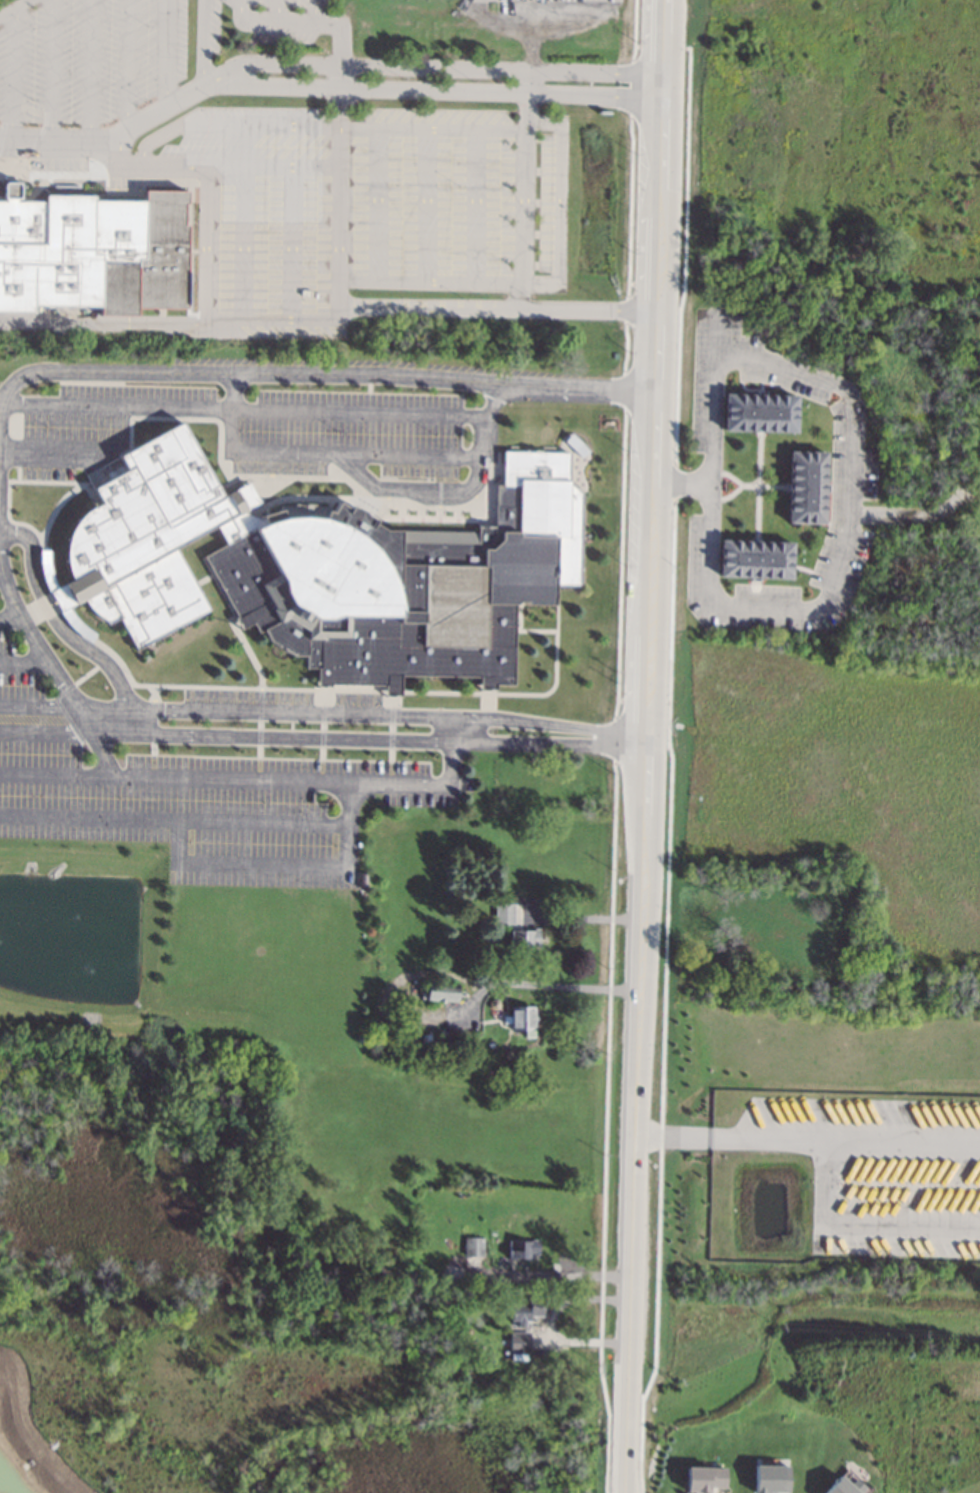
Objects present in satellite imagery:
road: (16, 10)
road: (241, 10)
road: (279, 10)
road: (316, 11)
road: (512, 29)
road: (634, 29)
parking lot: (213, 30)
road: (206, 42)
road: (636, 46)
road: (661, 46)
road: (163, 54)
parking lot: (88, 60)
road: (127, 66)
road: (436, 67)
road: (52, 70)
road: (91, 70)
road: (12, 76)
road: (437, 86)
road: (631, 87)
road: (324, 131)
road: (114, 140)
road: (367, 169)
road: (207, 181)
road: (526, 189)
parking lot: (367, 201)
road: (366, 203)
road: (559, 204)
road: (629, 205)
road: (366, 241)
building: (92, 251)
road: (683, 253)
road: (339, 272)
road: (365, 282)
road: (629, 283)
road: (654, 283)
road: (680, 284)
road: (625, 308)
road: (277, 316)
road: (105, 324)
road: (626, 346)
road: (118, 370)
road: (624, 391)
road: (259, 408)
building: (759, 411)
parking lot: (242, 428)
road: (82, 451)
road: (343, 454)
road: (674, 483)
road: (682, 484)
road: (739, 484)
road: (759, 484)
building: (758, 485)
road: (763, 485)
road: (419, 486)
building: (806, 486)
road: (904, 515)
building: (755, 558)
road: (619, 564)
building: (328, 570)
road: (3, 577)
road: (798, 610)
road: (14, 619)
road: (64, 631)
road: (27, 663)
road: (618, 700)
road: (644, 700)
road: (322, 715)
road: (322, 737)
road: (613, 739)
road: (643, 746)
road: (260, 779)
parking lot: (192, 796)
road: (194, 818)
crop: (833, 851)
road: (261, 865)
building: (503, 913)
building: (524, 939)
road: (543, 987)
building: (441, 991)
road: (663, 998)
building: (521, 1017)
building: (464, 1049)
road: (605, 1128)
road: (806, 1140)
road: (871, 1217)
building: (473, 1246)
building: (522, 1249)
road: (554, 1277)
building: (525, 1309)
road: (548, 1326)
building: (520, 1339)
building: (489, 1356)
building: (704, 1478)
building: (770, 1478)
building: (843, 1486)

